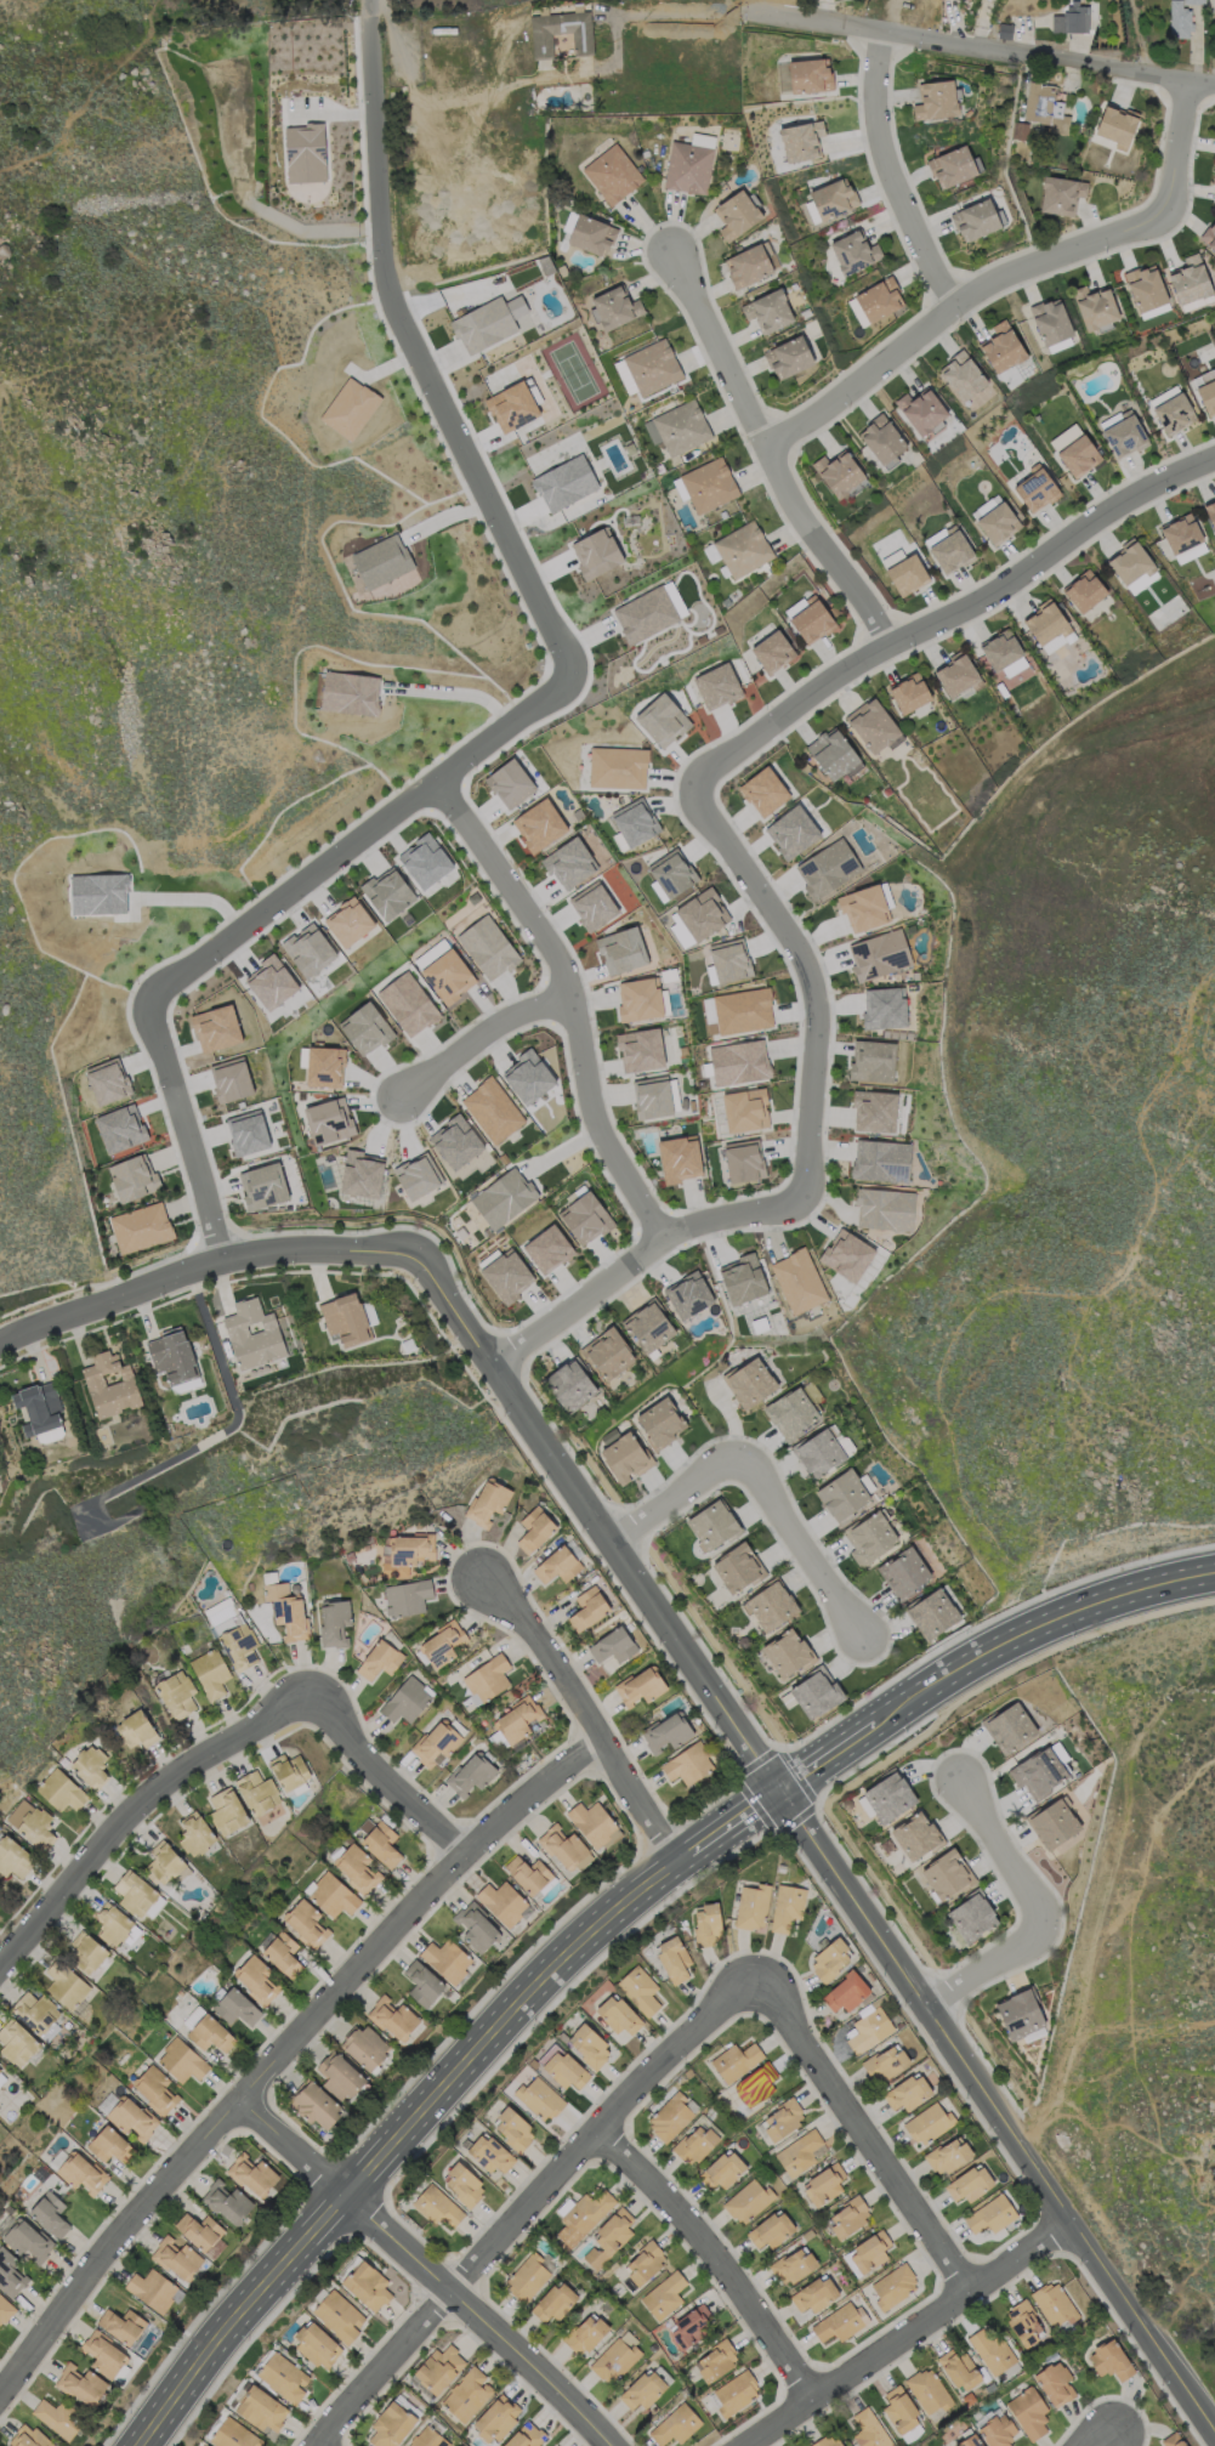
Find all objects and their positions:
building: (1196, 2)
road: (35, 8)
road: (368, 8)
road: (687, 13)
building: (1072, 21)
building: (1180, 21)
building: (560, 32)
building: (1006, 32)
road: (990, 49)
building: (447, 57)
building: (808, 74)
building: (935, 100)
building: (1045, 109)
building: (1118, 127)
building: (800, 140)
building: (303, 152)
building: (953, 165)
building: (687, 166)
building: (612, 174)
road: (886, 174)
building: (1214, 176)
building: (1060, 194)
building: (831, 198)
building: (734, 214)
building: (973, 220)
building: (592, 234)
building: (1209, 238)
building: (853, 251)
building: (749, 263)
road: (1005, 269)
building: (1191, 282)
building: (1146, 289)
building: (878, 299)
building: (614, 306)
building: (1094, 306)
building: (767, 311)
building: (856, 312)
building: (1050, 320)
building: (489, 323)
building: (1000, 347)
road: (415, 356)
building: (788, 357)
building: (651, 365)
building: (961, 375)
building: (1203, 376)
building: (1208, 398)
building: (513, 404)
building: (348, 408)
building: (921, 410)
building: (1173, 413)
building: (676, 427)
building: (1122, 432)
building: (880, 438)
road: (194, 448)
road: (766, 450)
building: (1078, 455)
building: (838, 472)
building: (563, 483)
building: (708, 484)
building: (1035, 488)
building: (984, 506)
building: (1210, 511)
building: (997, 523)
building: (1180, 533)
building: (742, 549)
building: (597, 551)
building: (950, 551)
building: (891, 557)
building: (380, 561)
building: (905, 574)
building: (1084, 590)
building: (645, 614)
road: (950, 614)
building: (811, 619)
building: (1047, 626)
building: (1000, 649)
building: (771, 651)
building: (955, 674)
building: (716, 686)
building: (348, 692)
building: (908, 692)
road: (458, 694)
building: (660, 719)
building: (871, 726)
building: (833, 754)
building: (617, 767)
building: (509, 782)
building: (762, 790)
building: (634, 822)
building: (538, 824)
building: (791, 832)
road: (364, 836)
building: (424, 861)
building: (568, 863)
building: (827, 867)
building: (671, 873)
road: (510, 886)
building: (387, 892)
building: (97, 893)
road: (198, 897)
building: (591, 906)
building: (863, 908)
building: (700, 914)
building: (348, 921)
building: (487, 947)
building: (307, 949)
building: (620, 949)
building: (878, 954)
building: (728, 959)
building: (447, 976)
road: (806, 976)
building: (271, 981)
building: (638, 998)
building: (407, 1003)
building: (882, 1006)
building: (737, 1010)
building: (215, 1027)
building: (364, 1028)
road: (483, 1038)
building: (638, 1049)
building: (871, 1060)
building: (738, 1061)
building: (324, 1066)
building: (527, 1076)
building: (229, 1079)
building: (107, 1080)
building: (651, 1097)
building: (492, 1110)
building: (744, 1110)
building: (873, 1111)
building: (328, 1120)
building: (119, 1128)
road: (600, 1128)
road: (184, 1130)
building: (246, 1131)
building: (455, 1141)
building: (677, 1158)
building: (743, 1159)
building: (880, 1159)
building: (362, 1174)
building: (416, 1175)
building: (132, 1176)
building: (262, 1185)
building: (503, 1197)
building: (884, 1209)
road: (731, 1214)
building: (585, 1218)
building: (140, 1226)
road: (1050, 1227)
building: (546, 1248)
building: (846, 1254)
road: (193, 1266)
building: (506, 1275)
building: (742, 1278)
building: (797, 1281)
road: (1032, 1292)
building: (687, 1294)
road: (580, 1303)
building: (344, 1318)
building: (647, 1326)
building: (251, 1333)
building: (607, 1352)
building: (171, 1355)
building: (749, 1381)
building: (109, 1384)
building: (569, 1385)
building: (40, 1409)
building: (790, 1412)
building: (660, 1421)
building: (818, 1452)
building: (624, 1457)
road: (766, 1486)
building: (844, 1493)
building: (487, 1500)
road: (1207, 1521)
building: (712, 1523)
building: (534, 1528)
building: (869, 1537)
building: (407, 1551)
building: (556, 1565)
building: (737, 1567)
building: (903, 1572)
road: (1134, 1594)
building: (407, 1596)
building: (771, 1605)
building: (587, 1608)
building: (285, 1610)
building: (932, 1613)
building: (333, 1622)
building: (442, 1644)
building: (612, 1645)
building: (238, 1646)
building: (785, 1652)
building: (379, 1659)
building: (209, 1672)
building: (486, 1679)
building: (640, 1685)
building: (814, 1692)
building: (176, 1693)
road: (915, 1696)
building: (405, 1699)
road: (580, 1714)
building: (516, 1719)
building: (1011, 1726)
building: (135, 1729)
building: (666, 1731)
building: (435, 1743)
building: (687, 1764)
building: (89, 1765)
building: (1038, 1771)
building: (288, 1772)
road: (382, 1774)
building: (470, 1774)
building: (59, 1789)
building: (256, 1792)
building: (888, 1795)
building: (226, 1810)
road: (137, 1811)
building: (268, 1814)
road: (738, 1820)
road: (1160, 1821)
building: (1052, 1822)
building: (29, 1823)
building: (591, 1823)
building: (194, 1833)
road: (816, 1835)
building: (915, 1835)
building: (380, 1844)
building: (561, 1845)
building: (13, 1858)
building: (163, 1861)
road: (1115, 1863)
building: (354, 1867)
building: (527, 1873)
building: (946, 1873)
building: (134, 1892)
building: (331, 1895)
building: (501, 1901)
building: (154, 1906)
building: (785, 1906)
building: (751, 1907)
road: (409, 1911)
road: (1037, 1914)
building: (971, 1916)
building: (305, 1922)
building: (705, 1922)
building: (113, 1924)
building: (475, 1926)
building: (85, 1952)
building: (282, 1953)
building: (672, 1958)
building: (445, 1959)
building: (829, 1960)
building: (255, 1979)
building: (421, 1982)
building: (64, 1984)
building: (638, 1990)
building: (845, 1992)
building: (234, 2007)
building: (1018, 2013)
building: (35, 2014)
building: (392, 2017)
building: (617, 2017)
building: (868, 2030)
road: (1146, 2032)
building: (209, 2033)
building: (16, 2042)
building: (364, 2045)
building: (587, 2045)
building: (181, 2060)
building: (734, 2060)
building: (884, 2064)
building: (561, 2067)
building: (1, 2073)
building: (339, 2076)
building: (755, 2084)
building: (154, 2088)
building: (907, 2092)
building: (539, 2098)
building: (314, 2105)
building: (669, 2116)
building: (130, 2117)
building: (782, 2118)
building: (929, 2122)
building: (512, 2128)
road: (859, 2132)
road: (402, 2133)
building: (693, 2144)
building: (109, 2145)
building: (489, 2152)
building: (797, 2152)
building: (948, 2155)
building: (721, 2169)
building: (80, 2172)
building: (251, 2174)
building: (969, 2183)
building: (462, 2184)
building: (823, 2184)
building: (746, 2200)
building: (226, 2202)
road: (529, 2203)
building: (436, 2206)
building: (49, 2214)
building: (581, 2214)
building: (989, 2214)
building: (847, 2217)
building: (198, 2230)
building: (770, 2230)
building: (607, 2237)
building: (28, 2240)
road: (110, 2243)
building: (869, 2251)
road: (716, 2255)
building: (176, 2258)
building: (643, 2263)
building: (791, 2265)
road: (430, 2268)
building: (10, 2274)
building: (527, 2277)
building: (367, 2285)
building: (892, 2286)
building: (153, 2289)
building: (663, 2294)
building: (813, 2294)
building: (553, 2302)
building: (1054, 2304)
building: (5, 2308)
building: (337, 2315)
building: (838, 2322)
building: (1023, 2322)
building: (121, 2325)
building: (689, 2325)
road: (903, 2331)
building: (584, 2333)
building: (316, 2344)
building: (990, 2350)
building: (102, 2354)
building: (614, 2356)
building: (1109, 2360)
building: (715, 2361)
building: (438, 2368)
building: (959, 2370)
building: (282, 2377)
building: (1054, 2383)
building: (80, 2384)
building: (641, 2390)
building: (927, 2390)
building: (734, 2393)
building: (466, 2394)
building: (260, 2408)
building: (898, 2408)
building: (1027, 2412)
building: (56, 2417)
building: (495, 2417)
building: (391, 2424)
building: (674, 2424)
building: (868, 2429)
building: (997, 2430)
building: (910, 2433)
building: (232, 2434)
building: (27, 2436)
building: (524, 2436)
road: (1111, 2436)
building: (426, 2438)
building: (1171, 2439)
building: (825, 2440)
building: (969, 2441)
building: (555, 2445)

